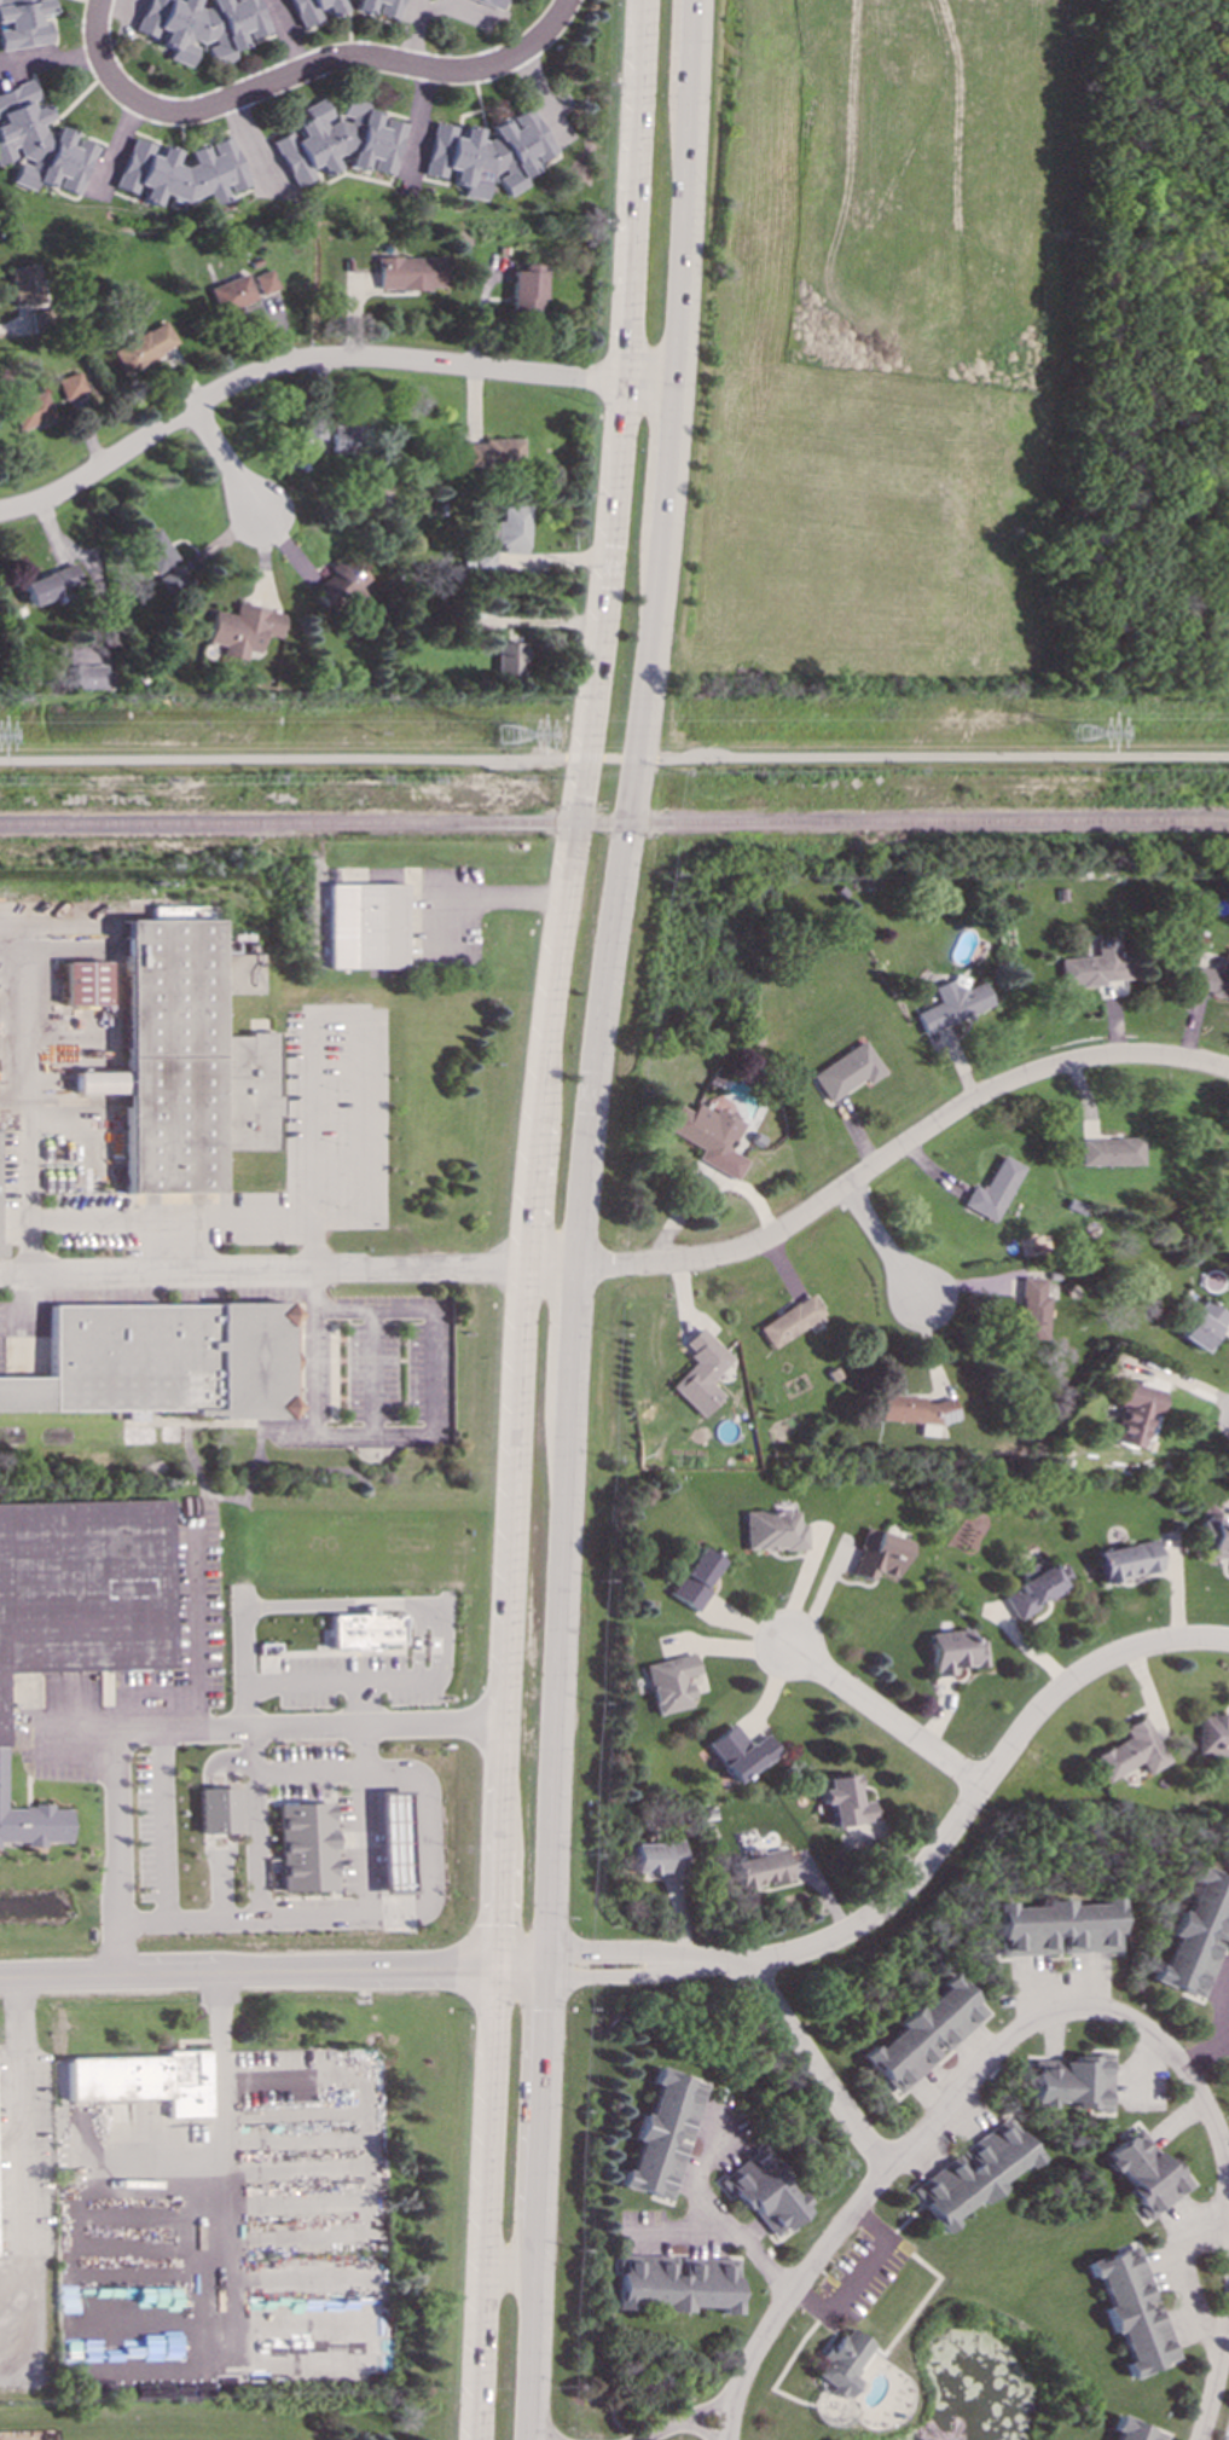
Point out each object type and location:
building: (489, 2)
building: (361, 5)
building: (388, 8)
building: (311, 10)
building: (22, 23)
building: (199, 25)
road: (94, 29)
road: (47, 60)
road: (331, 60)
road: (422, 120)
building: (336, 140)
building: (40, 143)
building: (486, 152)
building: (181, 170)
building: (408, 272)
building: (263, 280)
building: (25, 284)
building: (526, 288)
building: (231, 292)
building: (144, 347)
crop: (877, 349)
park: (1144, 359)
road: (317, 361)
building: (70, 384)
building: (30, 408)
building: (311, 434)
building: (353, 439)
building: (491, 453)
road: (226, 462)
building: (509, 528)
building: (157, 551)
building: (52, 583)
building: (341, 584)
building: (466, 622)
building: (242, 628)
building: (508, 657)
building: (88, 676)
power tower: (505, 735)
power tower: (1082, 735)
road: (941, 755)
road: (584, 757)
road: (283, 758)
road: (611, 758)
road: (638, 759)
railway: (614, 822)
road: (476, 897)
building: (365, 925)
building: (1092, 964)
building: (1212, 978)
building: (85, 983)
building: (951, 1003)
road: (364, 1020)
building: (187, 1059)
building: (845, 1071)
road: (24, 1112)
building: (706, 1135)
road: (897, 1149)
building: (1109, 1151)
building: (991, 1188)
road: (232, 1217)
road: (533, 1217)
road: (576, 1217)
road: (881, 1241)
road: (285, 1267)
building: (1030, 1308)
building: (787, 1320)
building: (1201, 1325)
building: (166, 1360)
building: (697, 1372)
building: (914, 1410)
road: (435, 1413)
building: (1130, 1414)
building: (770, 1530)
building: (1213, 1535)
building: (875, 1554)
building: (1125, 1560)
building: (691, 1578)
building: (1030, 1586)
building: (79, 1607)
road: (195, 1624)
building: (364, 1629)
building: (951, 1651)
road: (306, 1680)
building: (667, 1682)
road: (881, 1715)
road: (529, 1725)
road: (195, 1728)
building: (1211, 1735)
building: (1126, 1751)
building: (737, 1752)
building: (841, 1801)
building: (216, 1809)
road: (962, 1813)
road: (161, 1825)
road: (422, 1841)
building: (395, 1843)
building: (305, 1845)
building: (653, 1856)
building: (756, 1868)
road: (367, 1874)
road: (257, 1890)
building: (1054, 1926)
building: (1195, 1934)
road: (609, 1952)
road: (520, 1970)
road: (248, 1974)
road: (613, 1977)
road: (1079, 2012)
road: (1228, 2028)
road: (1228, 2032)
building: (921, 2034)
road: (1204, 2051)
road: (814, 2068)
building: (143, 2080)
building: (1072, 2080)
road: (222, 2105)
road: (19, 2117)
building: (660, 2134)
building: (1143, 2172)
building: (969, 2173)
building: (763, 2192)
road: (717, 2221)
road: (508, 2270)
road: (853, 2272)
road: (1169, 2273)
road: (800, 2278)
building: (672, 2283)
building: (1131, 2309)
building: (839, 2361)
road: (1216, 2376)
road: (703, 2411)
road: (727, 2419)
road: (695, 2430)
building: (1132, 2430)
road: (660, 2432)
road: (528, 2439)

